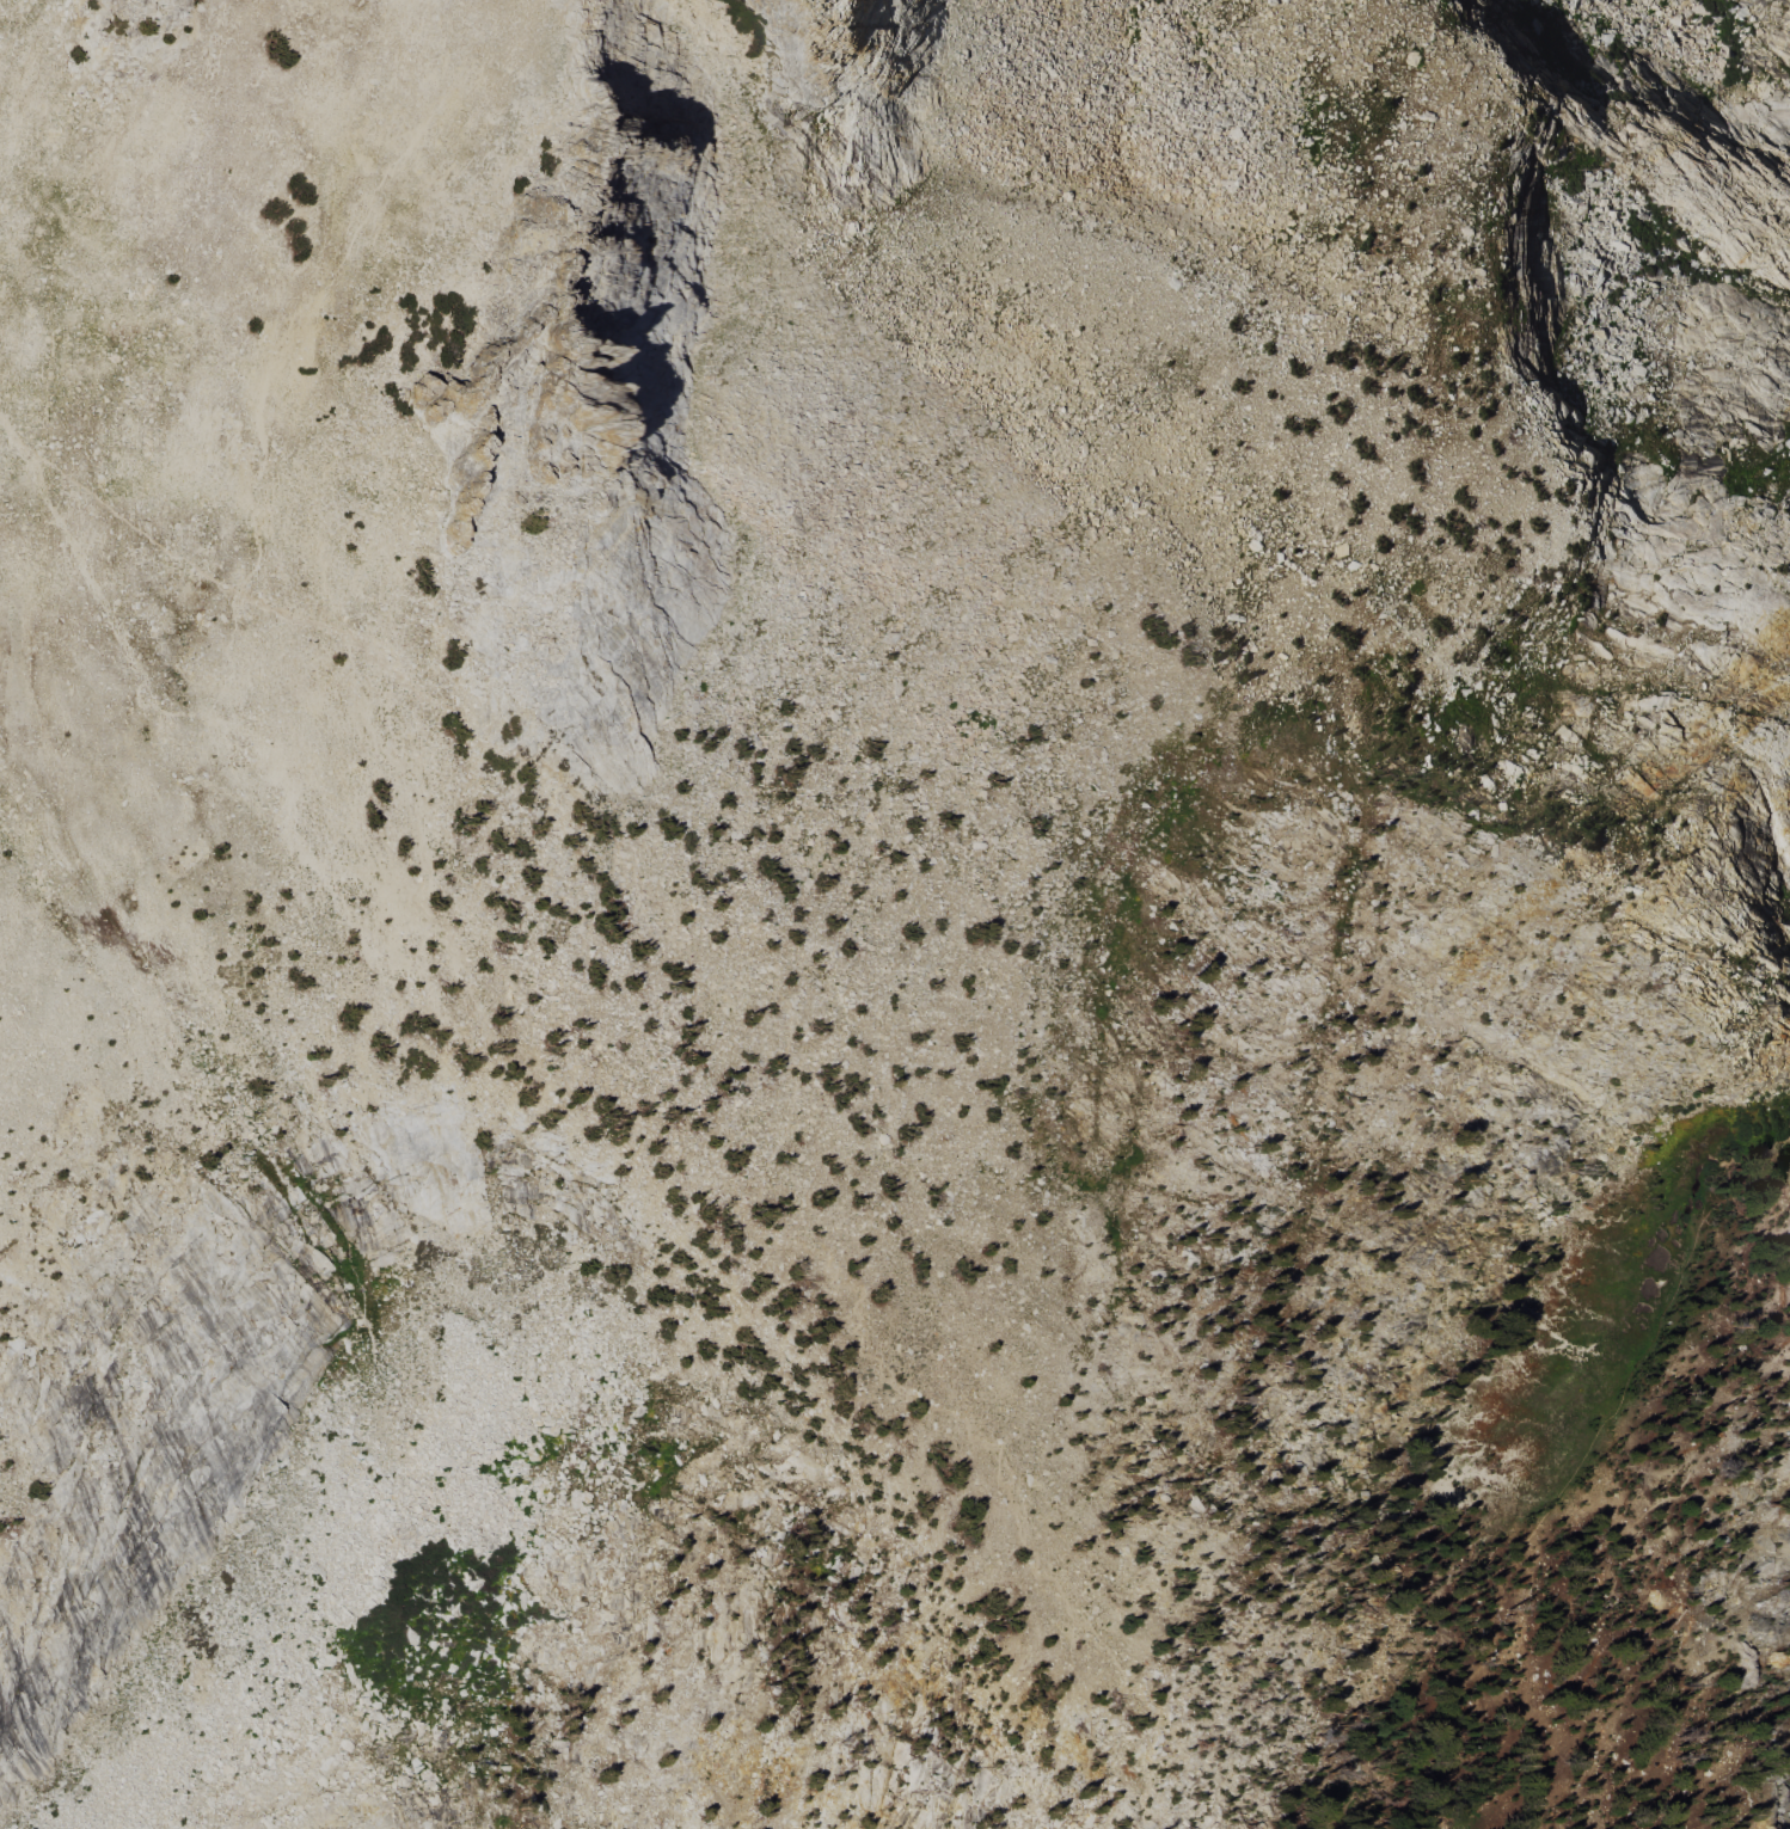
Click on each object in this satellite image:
road: (781, 999)
road: (1729, 1185)
road: (1569, 1597)

